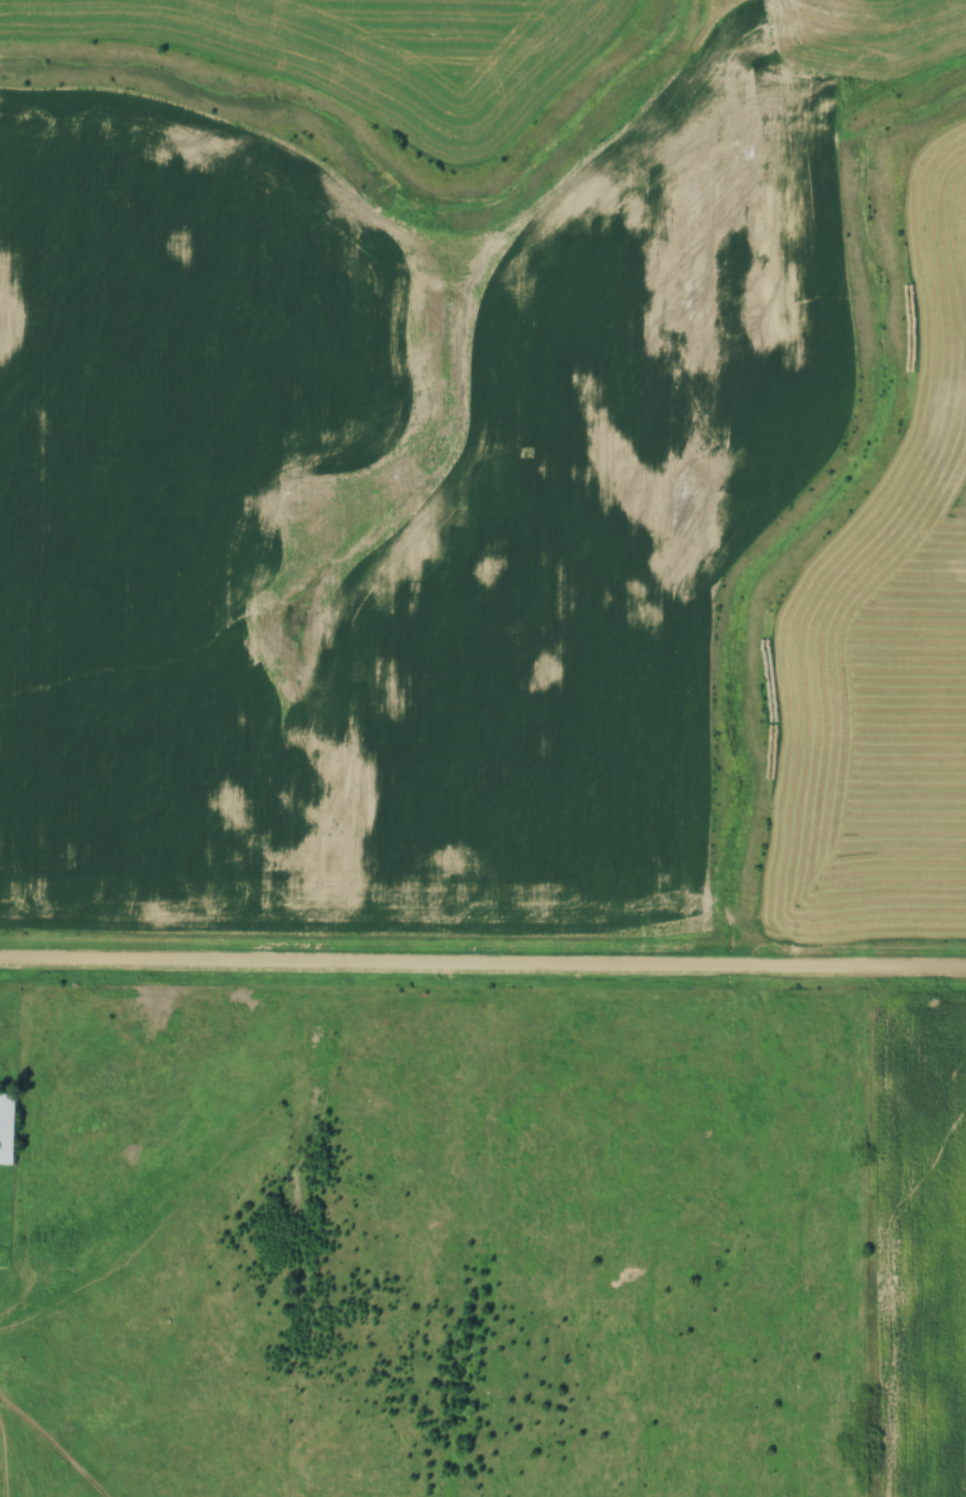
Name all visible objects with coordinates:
road: (483, 961)
building: (10, 1130)

